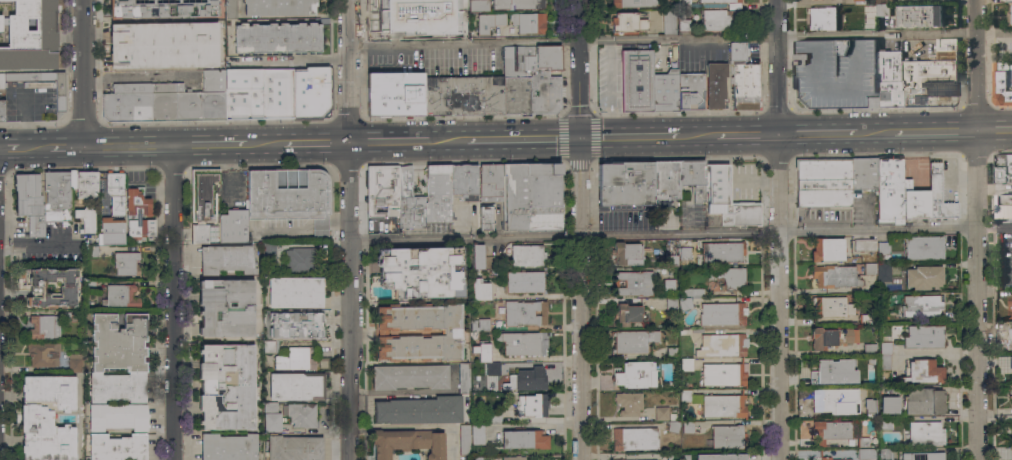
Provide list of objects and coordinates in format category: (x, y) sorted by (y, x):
building: (815, 0)
building: (838, 0)
building: (860, 2)
building: (385, 3)
building: (635, 3)
building: (715, 3)
building: (516, 4)
building: (683, 4)
building: (424, 5)
building: (472, 5)
building: (278, 7)
building: (162, 8)
building: (882, 8)
building: (230, 9)
building: (918, 15)
building: (1010, 17)
building: (683, 19)
building: (823, 19)
building: (722, 20)
building: (628, 21)
building: (668, 21)
building: (488, 22)
building: (528, 22)
building: (414, 26)
building: (30, 36)
building: (277, 38)
road: (680, 41)
building: (163, 45)
building: (236, 61)
road: (975, 66)
road: (82, 72)
building: (836, 73)
building: (931, 76)
building: (743, 78)
building: (531, 79)
building: (889, 79)
building: (636, 80)
building: (715, 84)
building: (1002, 84)
building: (666, 90)
building: (690, 90)
building: (244, 93)
building: (277, 93)
building: (395, 93)
building: (463, 94)
building: (60, 100)
building: (165, 100)
building: (322, 100)
building: (1, 110)
road: (995, 132)
road: (935, 133)
road: (875, 135)
road: (817, 136)
traffic signals: (581, 138)
road: (630, 138)
road: (697, 138)
road: (746, 138)
road: (523, 139)
road: (447, 140)
road: (389, 141)
road: (316, 142)
road: (264, 143)
road: (211, 144)
road: (41, 145)
road: (129, 145)
building: (1003, 168)
building: (863, 173)
building: (693, 177)
building: (665, 180)
building: (464, 181)
road: (978, 181)
building: (490, 182)
building: (824, 182)
building: (625, 183)
building: (890, 188)
building: (382, 191)
building: (438, 194)
building: (57, 195)
building: (938, 195)
building: (290, 196)
building: (531, 196)
building: (727, 199)
building: (915, 201)
building: (29, 202)
building: (202, 202)
building: (409, 202)
building: (116, 207)
building: (1004, 207)
building: (138, 215)
building: (486, 217)
building: (85, 218)
building: (232, 226)
road: (339, 229)
road: (351, 229)
road: (581, 229)
road: (779, 229)
road: (995, 229)
road: (320, 230)
road: (284, 231)
building: (212, 234)
road: (664, 235)
road: (39, 242)
building: (865, 245)
building: (923, 247)
building: (827, 249)
building: (92, 252)
building: (720, 252)
building: (883, 252)
building: (685, 253)
building: (269, 254)
building: (626, 254)
building: (526, 255)
building: (478, 256)
building: (227, 259)
building: (299, 260)
building: (671, 260)
building: (125, 263)
building: (871, 269)
building: (421, 271)
building: (495, 272)
building: (884, 273)
building: (728, 276)
building: (835, 276)
building: (923, 277)
building: (524, 282)
building: (633, 283)
building: (90, 284)
building: (669, 284)
building: (31, 287)
building: (479, 287)
building: (295, 292)
building: (693, 292)
building: (121, 296)
road: (176, 302)
building: (670, 303)
building: (685, 303)
building: (921, 305)
building: (831, 306)
building: (226, 307)
building: (1010, 308)
building: (524, 312)
building: (722, 313)
building: (630, 314)
building: (867, 318)
building: (295, 324)
building: (43, 326)
building: (478, 326)
building: (683, 331)
building: (451, 332)
building: (832, 337)
building: (924, 337)
building: (1010, 338)
building: (634, 341)
building: (524, 343)
building: (722, 344)
road: (977, 345)
building: (270, 346)
building: (869, 349)
building: (482, 351)
building: (672, 352)
building: (884, 353)
building: (43, 354)
building: (118, 358)
building: (295, 359)
building: (1009, 361)
building: (74, 363)
building: (686, 364)
building: (493, 368)
building: (923, 371)
building: (833, 372)
building: (725, 373)
building: (636, 375)
building: (409, 376)
building: (1011, 376)
building: (463, 378)
building: (527, 379)
building: (296, 386)
building: (226, 387)
building: (1011, 392)
building: (689, 396)
building: (834, 399)
building: (923, 401)
building: (628, 403)
building: (889, 404)
building: (531, 405)
building: (270, 406)
building: (724, 406)
building: (419, 410)
building: (871, 410)
building: (661, 413)
building: (302, 414)
building: (672, 416)
building: (46, 417)
building: (118, 417)
building: (494, 417)
building: (271, 422)
building: (885, 423)
building: (673, 426)
building: (688, 426)
building: (831, 430)
building: (925, 432)
building: (477, 433)
building: (727, 436)
building: (635, 438)
building: (464, 439)
building: (524, 439)
building: (1011, 439)
building: (408, 442)
building: (863, 442)
building: (117, 447)
building: (228, 447)
building: (293, 448)
building: (866, 453)
building: (1011, 453)
building: (885, 454)
building: (672, 455)
building: (721, 456)
building: (923, 456)
building: (514, 457)
building: (825, 458)
building: (621, 459)
building: (652, 459)
building: (845, 459)

